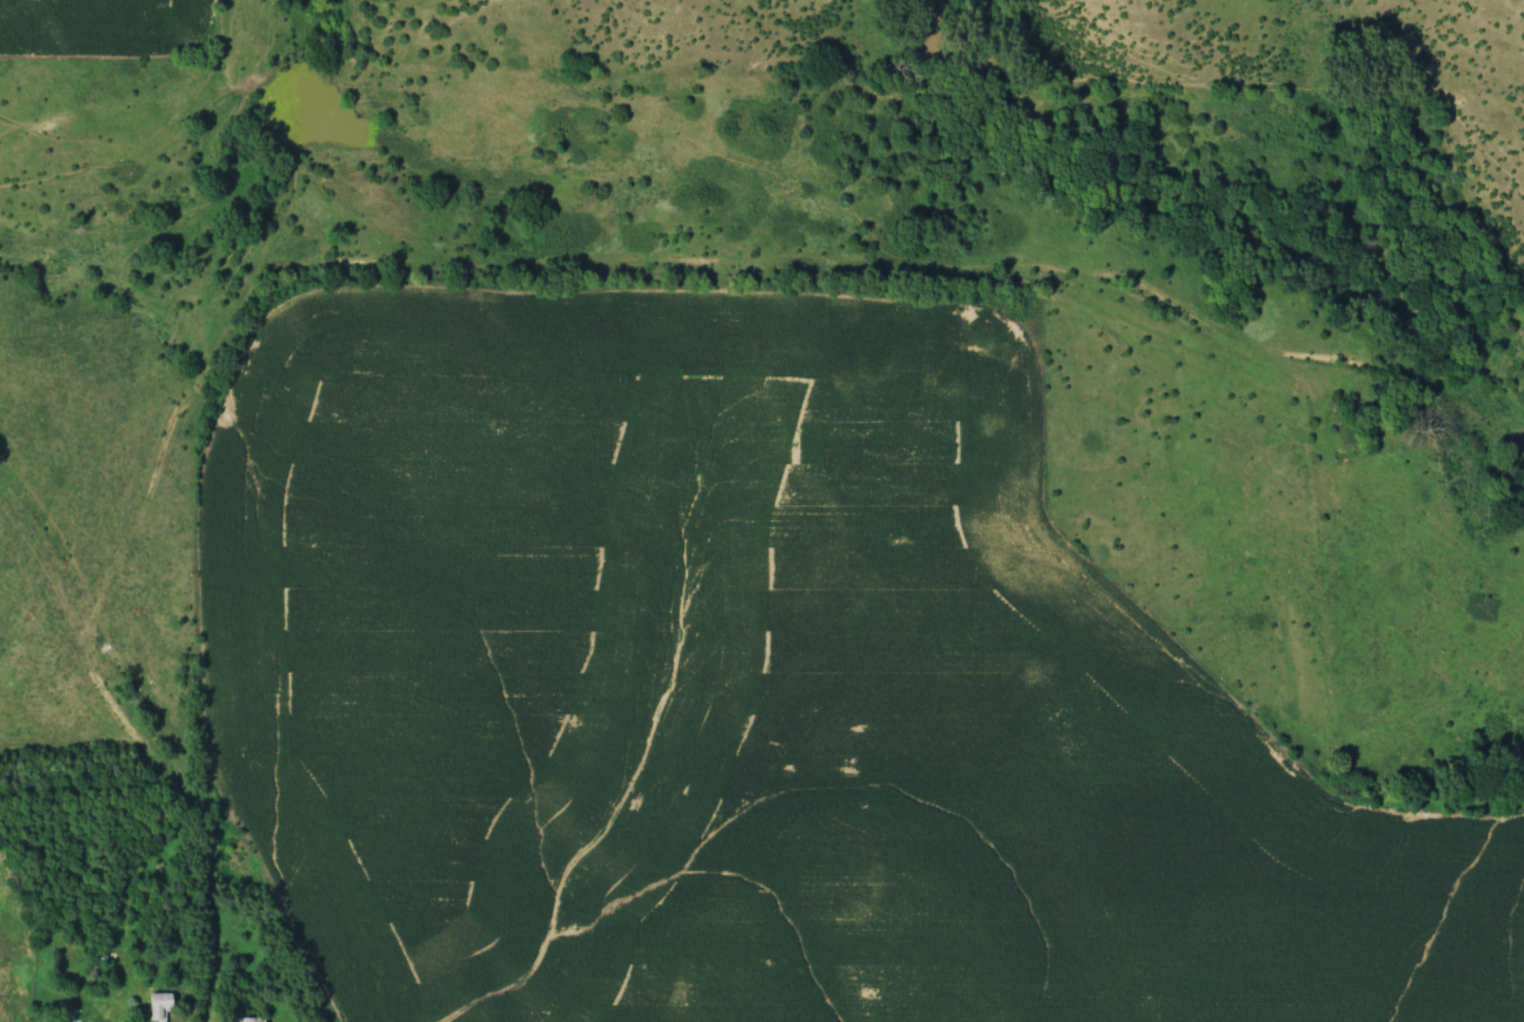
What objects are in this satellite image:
crop: (104, 26)
building: (103, 938)
building: (101, 956)
building: (162, 1005)
building: (64, 1018)
building: (243, 1019)

